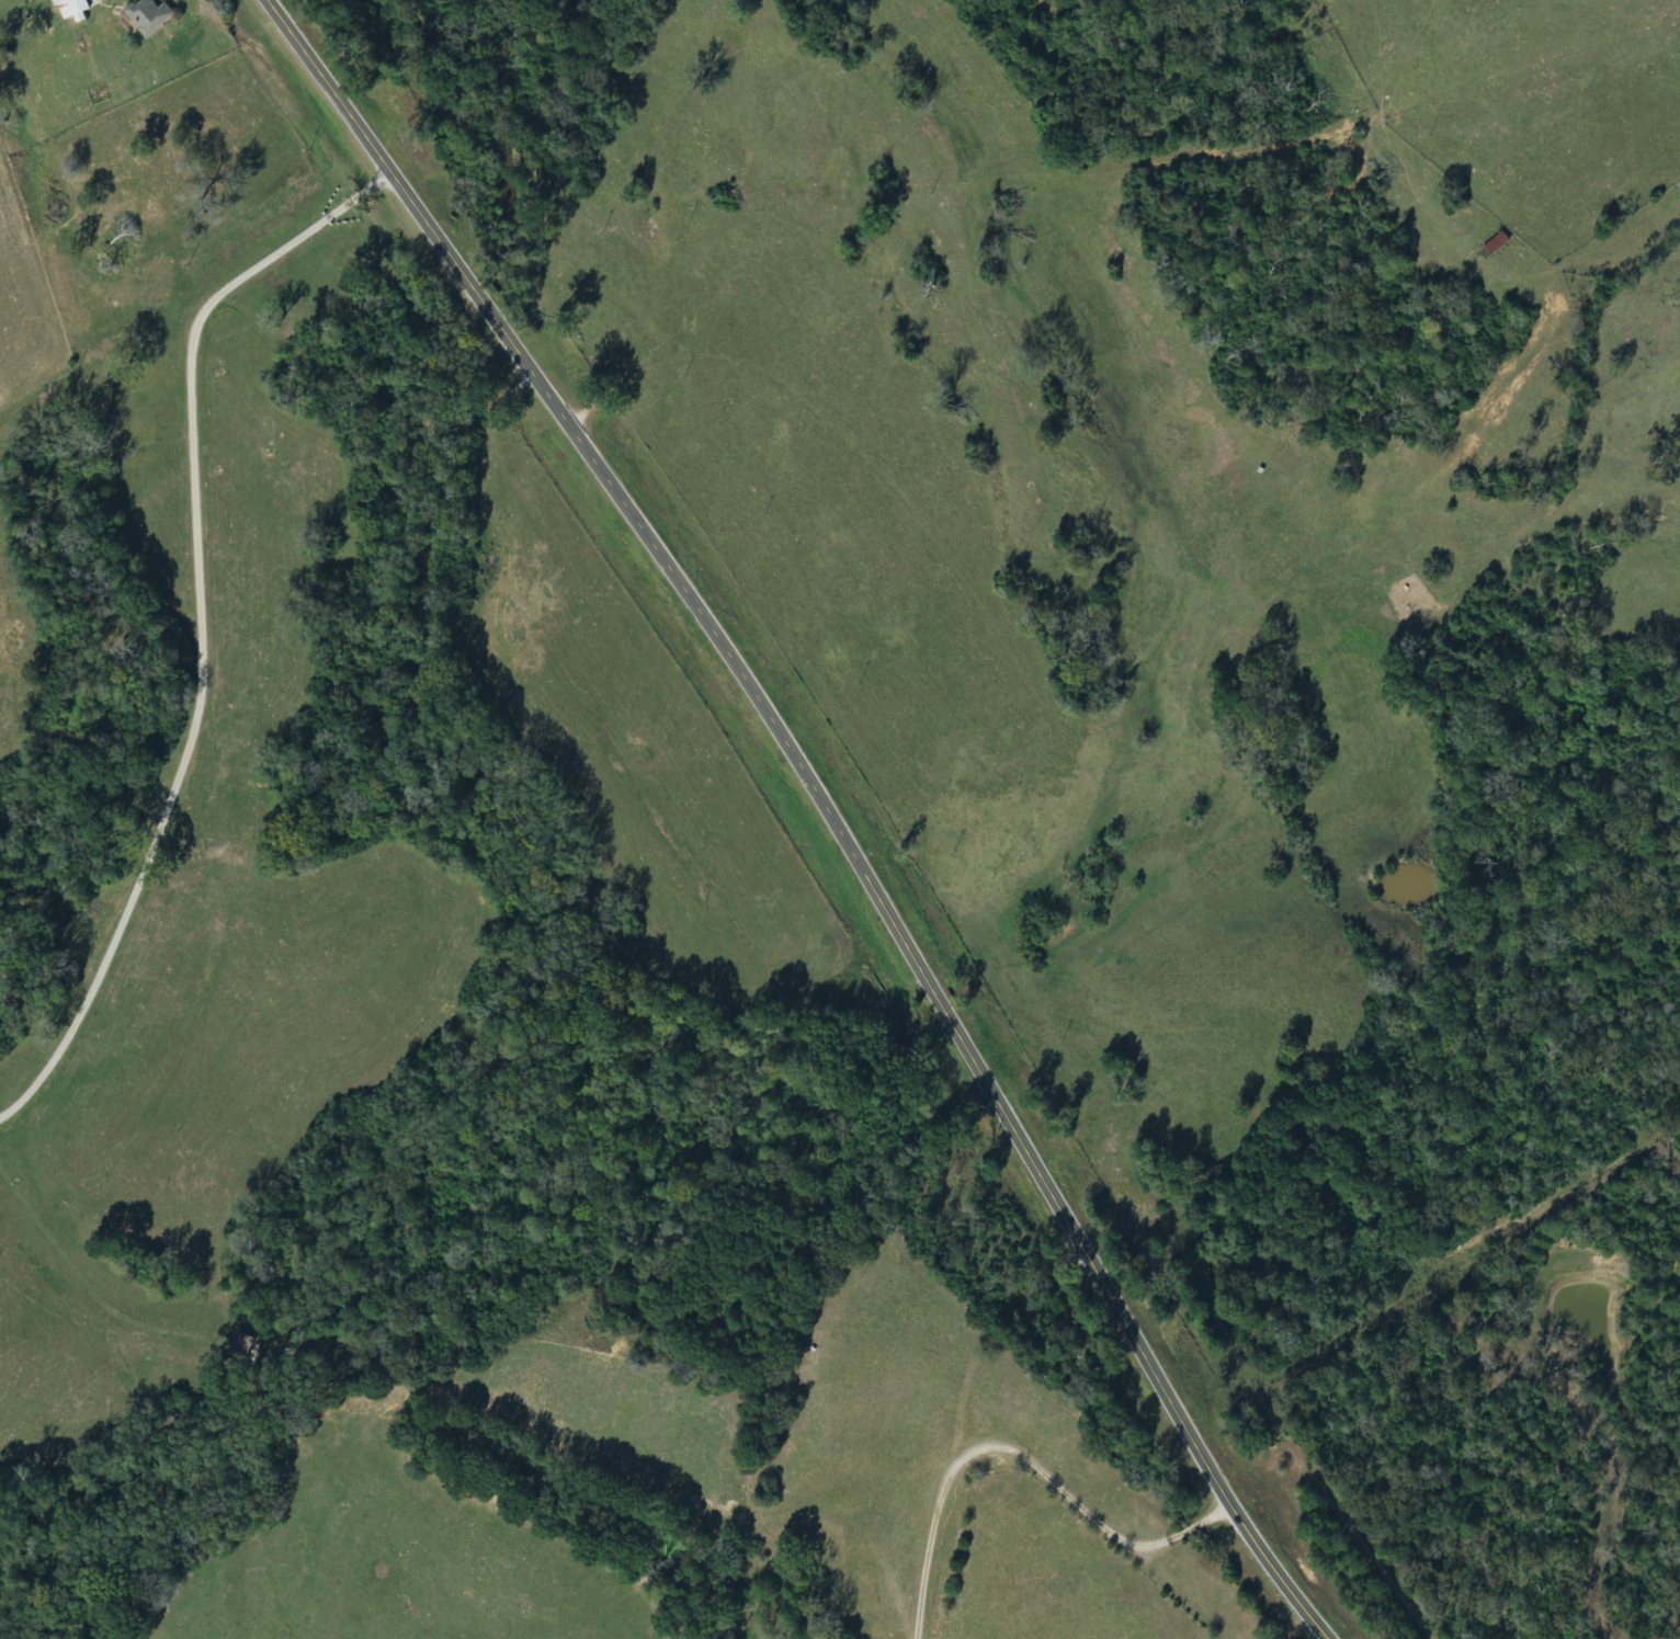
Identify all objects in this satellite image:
building: (75, 9)
building: (152, 18)
road: (132, 218)
building: (1499, 244)
road: (819, 805)

